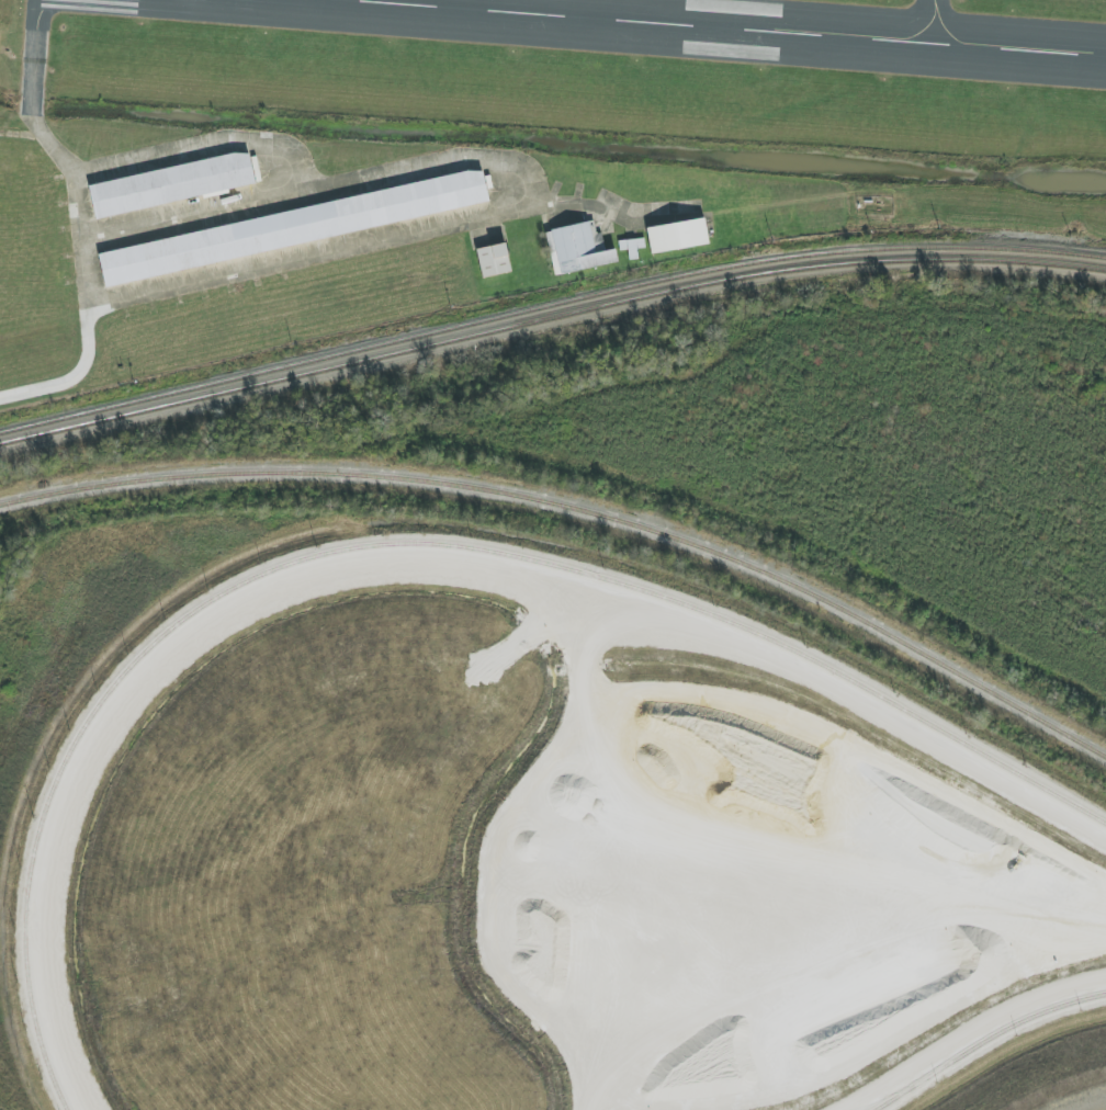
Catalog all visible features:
airport taxiway: (933, 11)
airport runway: (939, 12)
airport runway: (561, 49)
airport taxiway: (43, 112)
road: (21, 135)
airport: (489, 150)
airport taxiway: (271, 166)
building: (170, 184)
building: (293, 227)
building: (677, 236)
building: (632, 247)
building: (577, 248)
building: (493, 260)
railway: (549, 307)
railway: (548, 318)
road: (68, 382)
railway: (576, 513)

